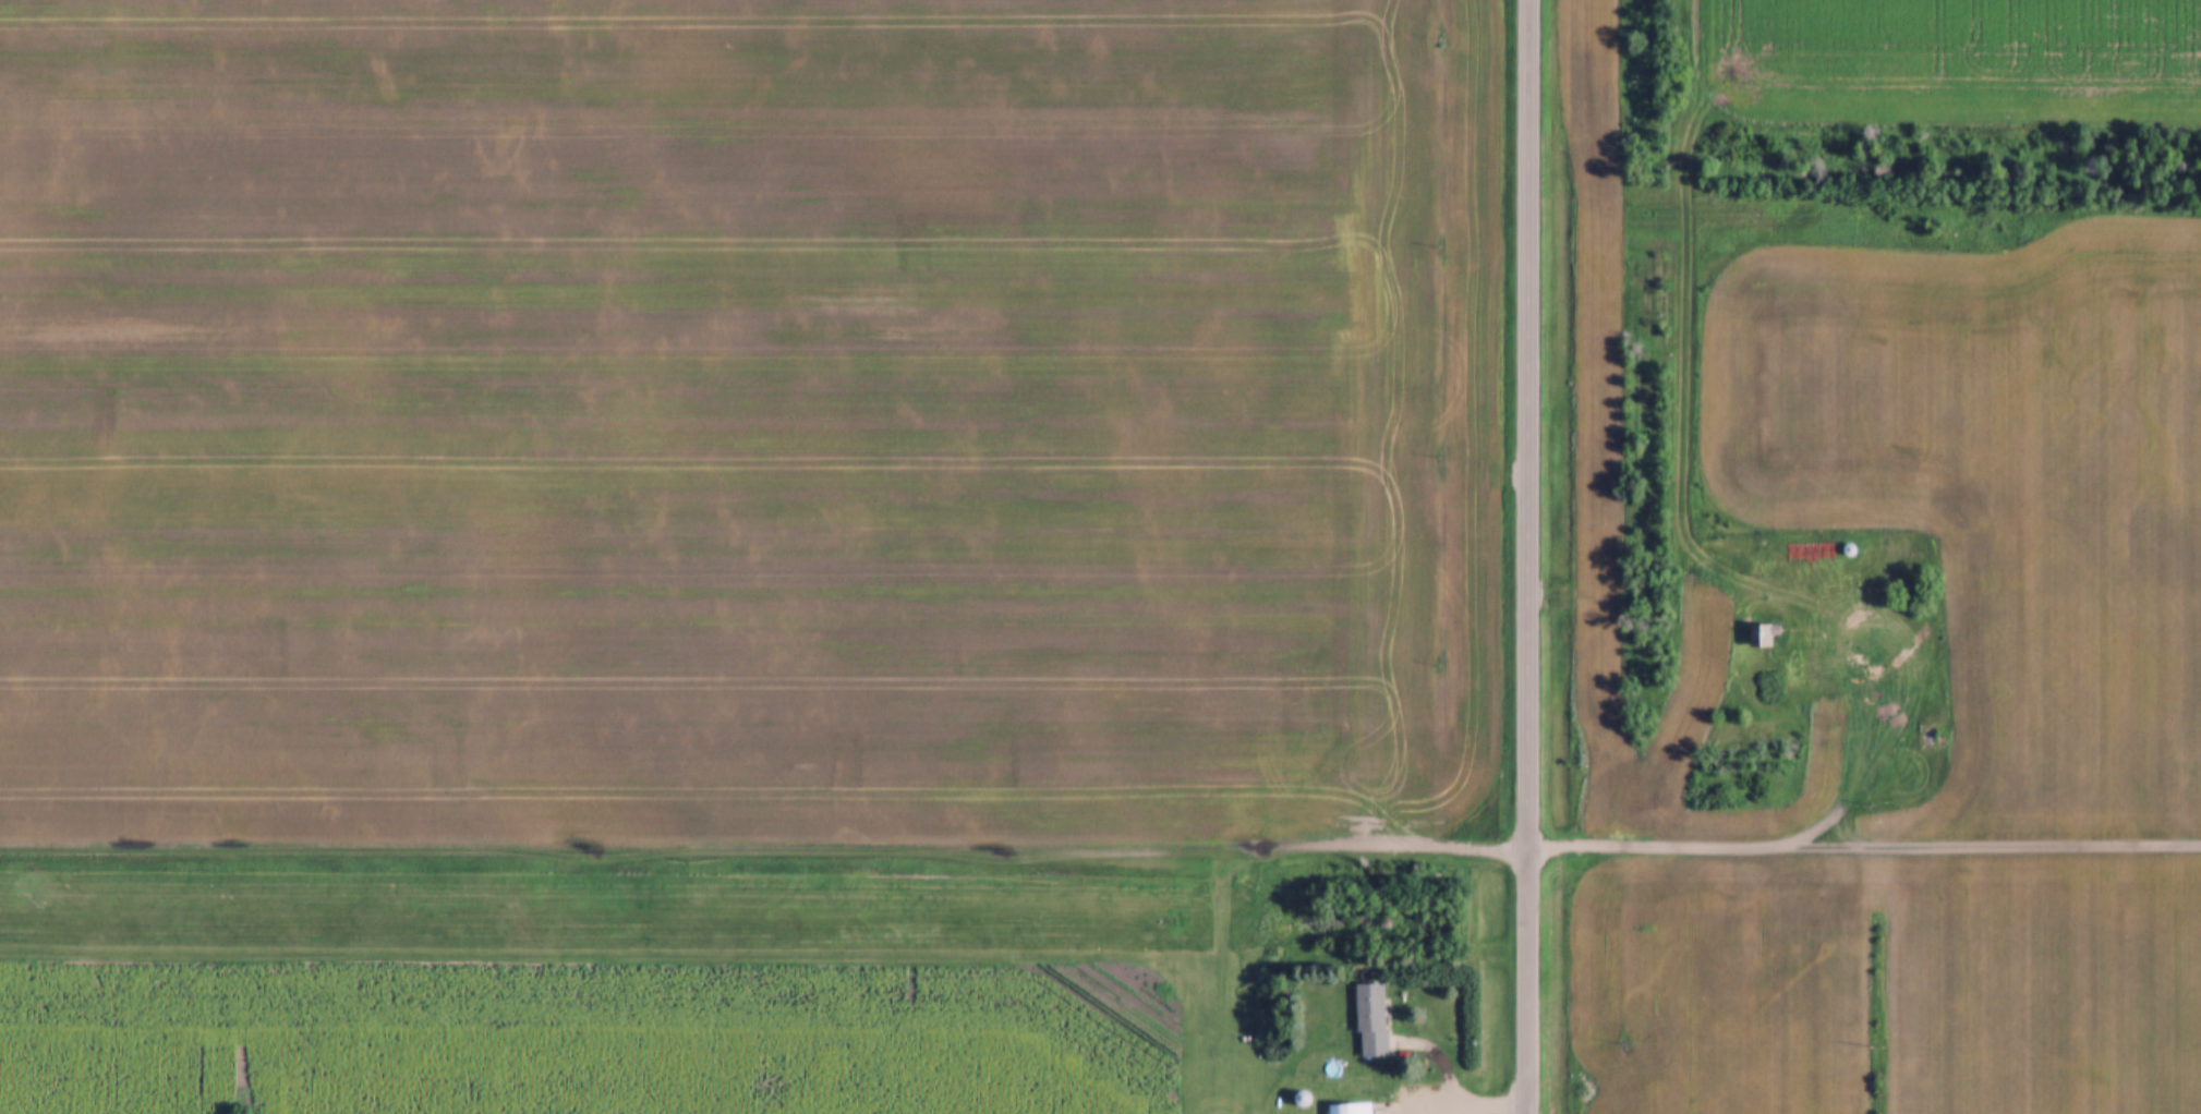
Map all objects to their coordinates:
road: (1526, 557)
building: (1764, 635)
building: (1931, 739)
road: (1100, 847)
airport runway: (608, 911)
airport: (823, 940)
airport runway: (1217, 1015)
building: (1370, 1019)
building: (1298, 1092)
silo: (1298, 1092)
road: (1503, 1102)
road: (1454, 1105)
building: (1347, 1106)
road: (1475, 1109)

